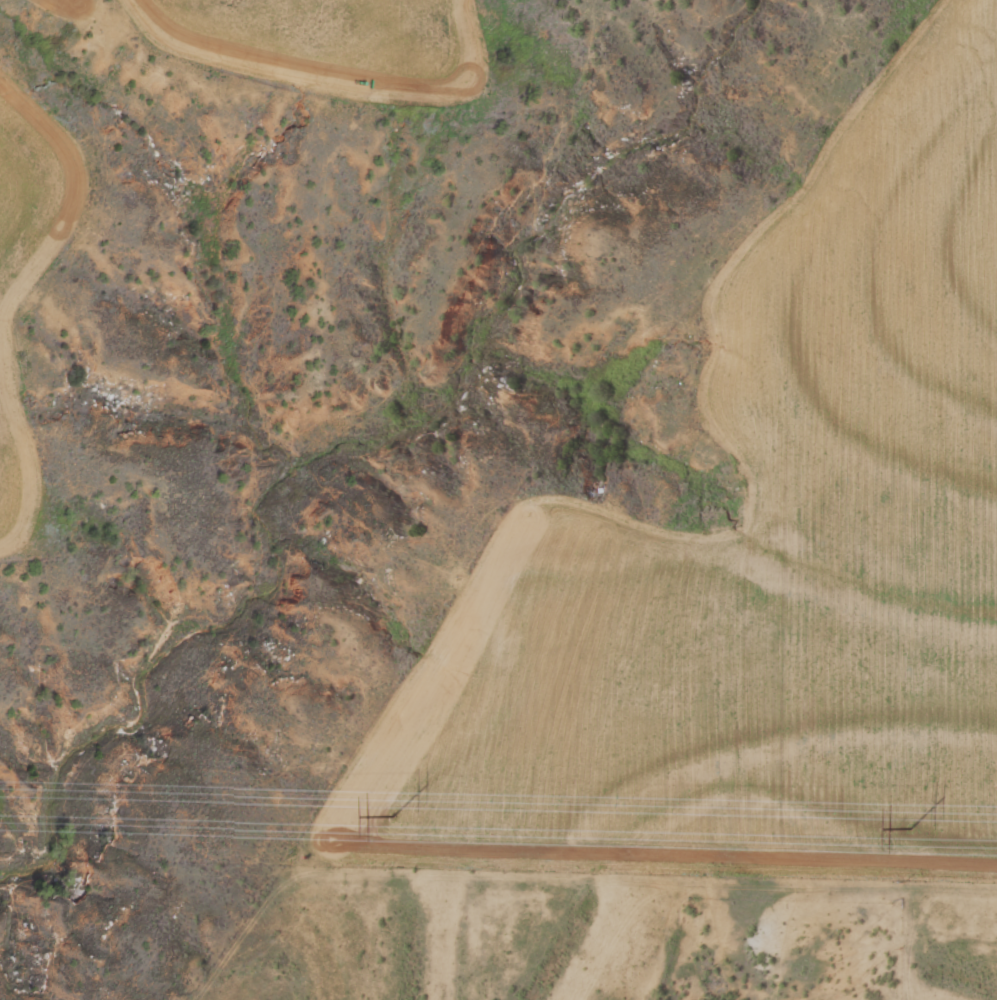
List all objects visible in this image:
power tower: (394, 815)
power tower: (913, 827)

